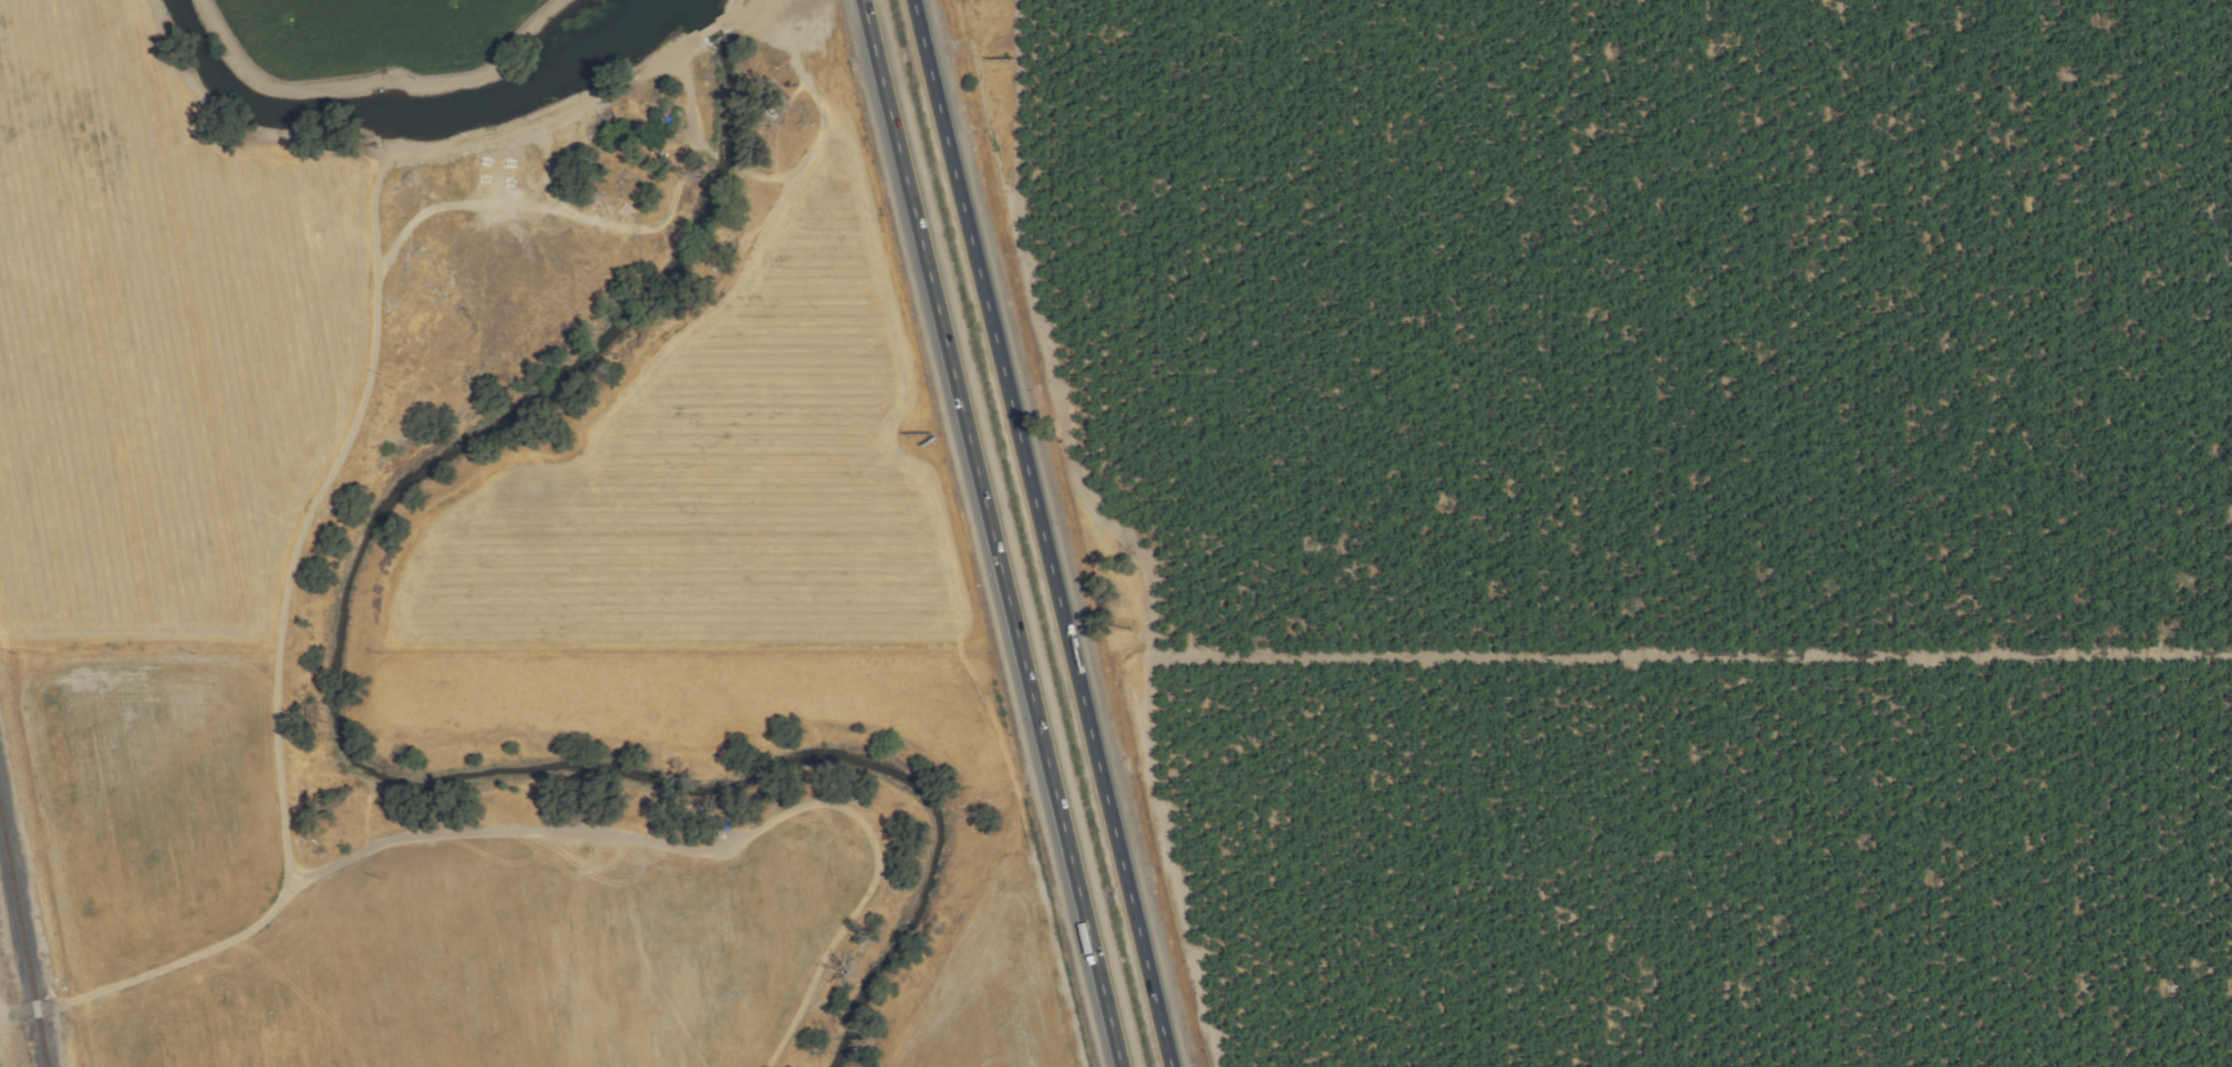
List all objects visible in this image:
crop: (1636, 515)
road: (990, 533)
road: (1041, 533)
railway: (22, 944)

